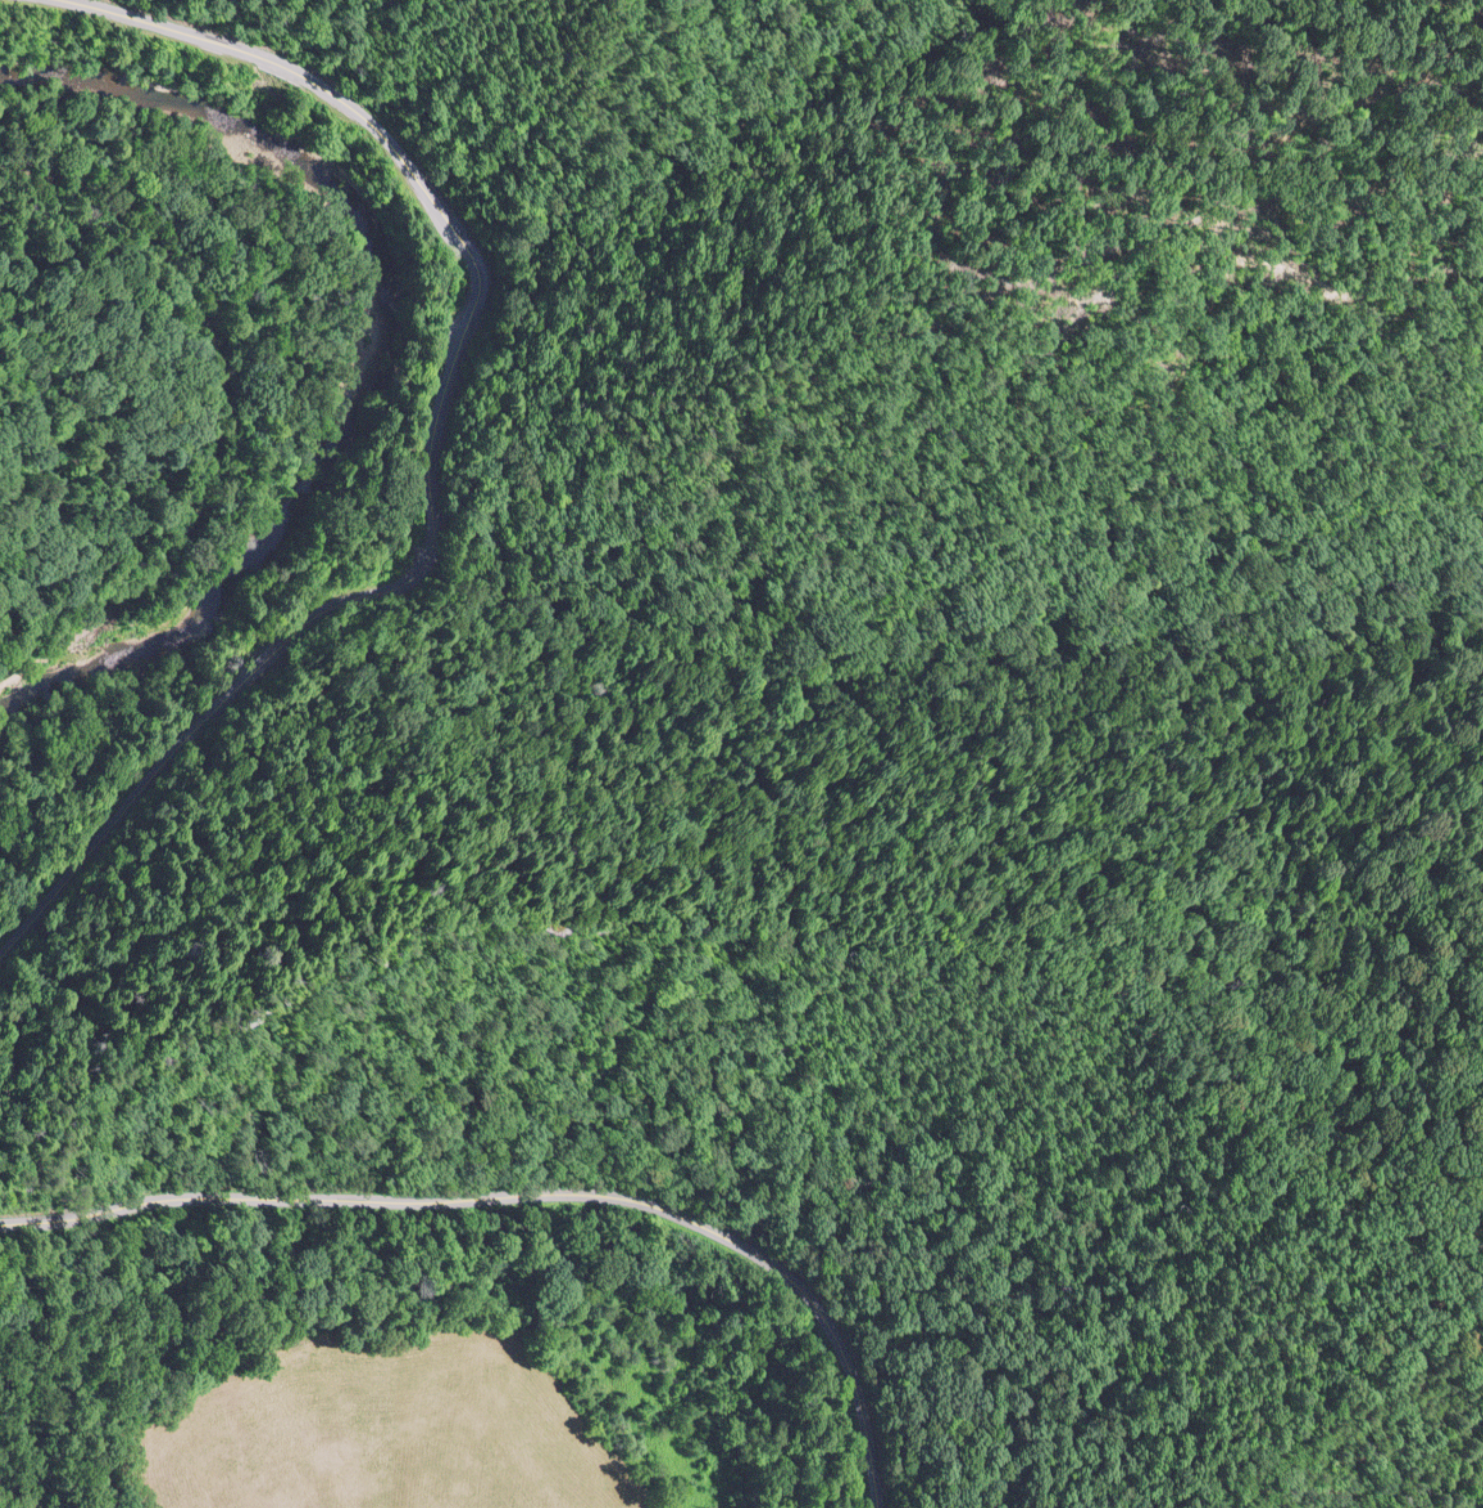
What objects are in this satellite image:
road: (428, 452)
road: (531, 1192)
crop: (377, 1429)

